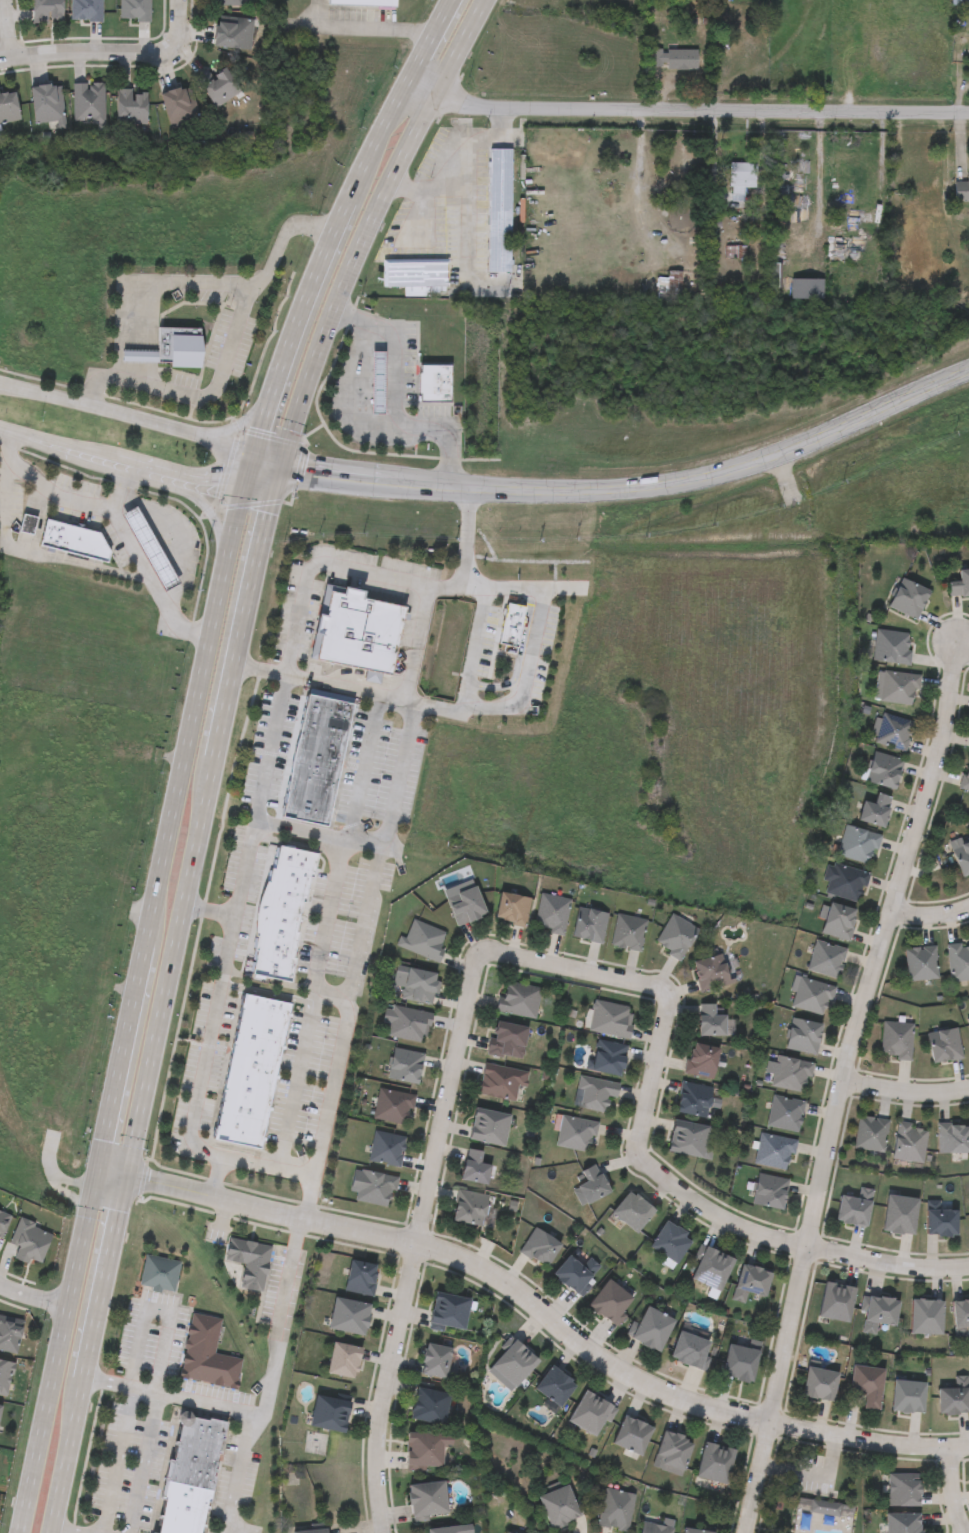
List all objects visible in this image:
building: (959, 1)
building: (231, 3)
building: (364, 3)
building: (47, 11)
building: (86, 11)
building: (135, 11)
road: (178, 25)
road: (7, 28)
road: (368, 29)
building: (233, 33)
road: (424, 45)
road: (88, 51)
road: (454, 52)
building: (674, 57)
building: (968, 60)
building: (219, 86)
road: (413, 98)
building: (88, 102)
building: (48, 104)
building: (178, 105)
building: (8, 107)
building: (132, 107)
road: (697, 109)
road: (384, 117)
road: (409, 131)
building: (913, 171)
road: (354, 174)
building: (740, 177)
road: (817, 184)
building: (961, 186)
road: (423, 187)
road: (466, 209)
building: (500, 209)
road: (422, 213)
building: (860, 214)
building: (839, 250)
building: (772, 273)
building: (416, 275)
building: (674, 281)
road: (329, 304)
road: (292, 324)
building: (171, 350)
road: (227, 353)
building: (379, 380)
gas station: (379, 380)
building: (433, 381)
road: (351, 391)
road: (396, 395)
road: (125, 413)
road: (247, 416)
road: (5, 428)
road: (66, 448)
traffic signals: (250, 448)
road: (264, 452)
traffic signals: (279, 456)
road: (300, 465)
road: (181, 477)
road: (281, 483)
traffic signals: (241, 484)
road: (655, 484)
traffic signals: (272, 485)
road: (117, 489)
road: (186, 492)
road: (117, 519)
building: (28, 525)
road: (175, 538)
building: (74, 539)
building: (150, 548)
gas station: (150, 548)
road: (34, 553)
road: (329, 555)
building: (960, 582)
building: (909, 596)
building: (510, 625)
building: (355, 628)
road: (414, 644)
road: (531, 645)
building: (892, 648)
building: (895, 686)
road: (348, 688)
building: (891, 729)
building: (316, 756)
building: (883, 769)
road: (361, 771)
road: (928, 776)
building: (965, 776)
building: (875, 809)
road: (252, 818)
building: (857, 843)
road: (387, 847)
building: (962, 856)
building: (844, 879)
building: (512, 906)
building: (281, 911)
building: (551, 911)
road: (930, 915)
building: (839, 919)
building: (590, 922)
building: (628, 930)
building: (675, 934)
building: (423, 938)
building: (826, 956)
building: (958, 960)
building: (921, 961)
building: (711, 970)
building: (416, 982)
road: (134, 990)
building: (812, 993)
road: (162, 994)
building: (519, 997)
road: (311, 1009)
road: (663, 1009)
building: (610, 1016)
building: (712, 1019)
building: (968, 1019)
building: (406, 1022)
building: (804, 1033)
road: (342, 1037)
building: (896, 1037)
building: (508, 1038)
building: (944, 1042)
building: (608, 1055)
building: (702, 1057)
building: (405, 1063)
road: (200, 1068)
building: (250, 1069)
building: (791, 1072)
building: (502, 1080)
building: (596, 1090)
road: (902, 1091)
building: (696, 1097)
building: (392, 1104)
building: (785, 1110)
building: (489, 1124)
building: (576, 1131)
building: (870, 1131)
building: (689, 1135)
building: (952, 1135)
building: (909, 1139)
building: (385, 1146)
building: (775, 1148)
building: (475, 1164)
traffic signals: (99, 1166)
road: (267, 1167)
traffic signals: (126, 1174)
building: (592, 1181)
building: (374, 1186)
building: (770, 1189)
building: (470, 1205)
building: (855, 1205)
building: (633, 1208)
building: (900, 1212)
building: (941, 1218)
road: (809, 1219)
building: (4, 1222)
building: (672, 1239)
building: (30, 1242)
building: (540, 1245)
building: (249, 1259)
building: (712, 1265)
building: (577, 1271)
building: (159, 1272)
building: (361, 1275)
building: (751, 1279)
road: (35, 1295)
building: (612, 1299)
building: (836, 1299)
road: (144, 1308)
building: (448, 1309)
road: (536, 1309)
building: (878, 1310)
building: (349, 1313)
building: (960, 1313)
building: (927, 1314)
building: (652, 1326)
building: (10, 1334)
building: (692, 1346)
building: (206, 1352)
building: (344, 1358)
building: (437, 1360)
building: (515, 1360)
building: (740, 1360)
building: (5, 1376)
building: (819, 1381)
building: (867, 1382)
building: (556, 1383)
road: (383, 1388)
building: (908, 1393)
building: (953, 1395)
building: (430, 1403)
building: (0, 1409)
road: (236, 1410)
building: (330, 1411)
building: (591, 1411)
building: (633, 1432)
road: (122, 1435)
building: (427, 1447)
building: (674, 1449)
building: (715, 1461)
road: (238, 1473)
building: (190, 1474)
building: (900, 1489)
road: (950, 1492)
building: (428, 1498)
building: (559, 1504)
building: (824, 1506)
building: (615, 1507)
building: (900, 1522)
building: (655, 1527)
building: (452, 1528)
road: (65, 1529)
building: (312, 1530)
building: (696, 1530)
building: (510, 1532)

